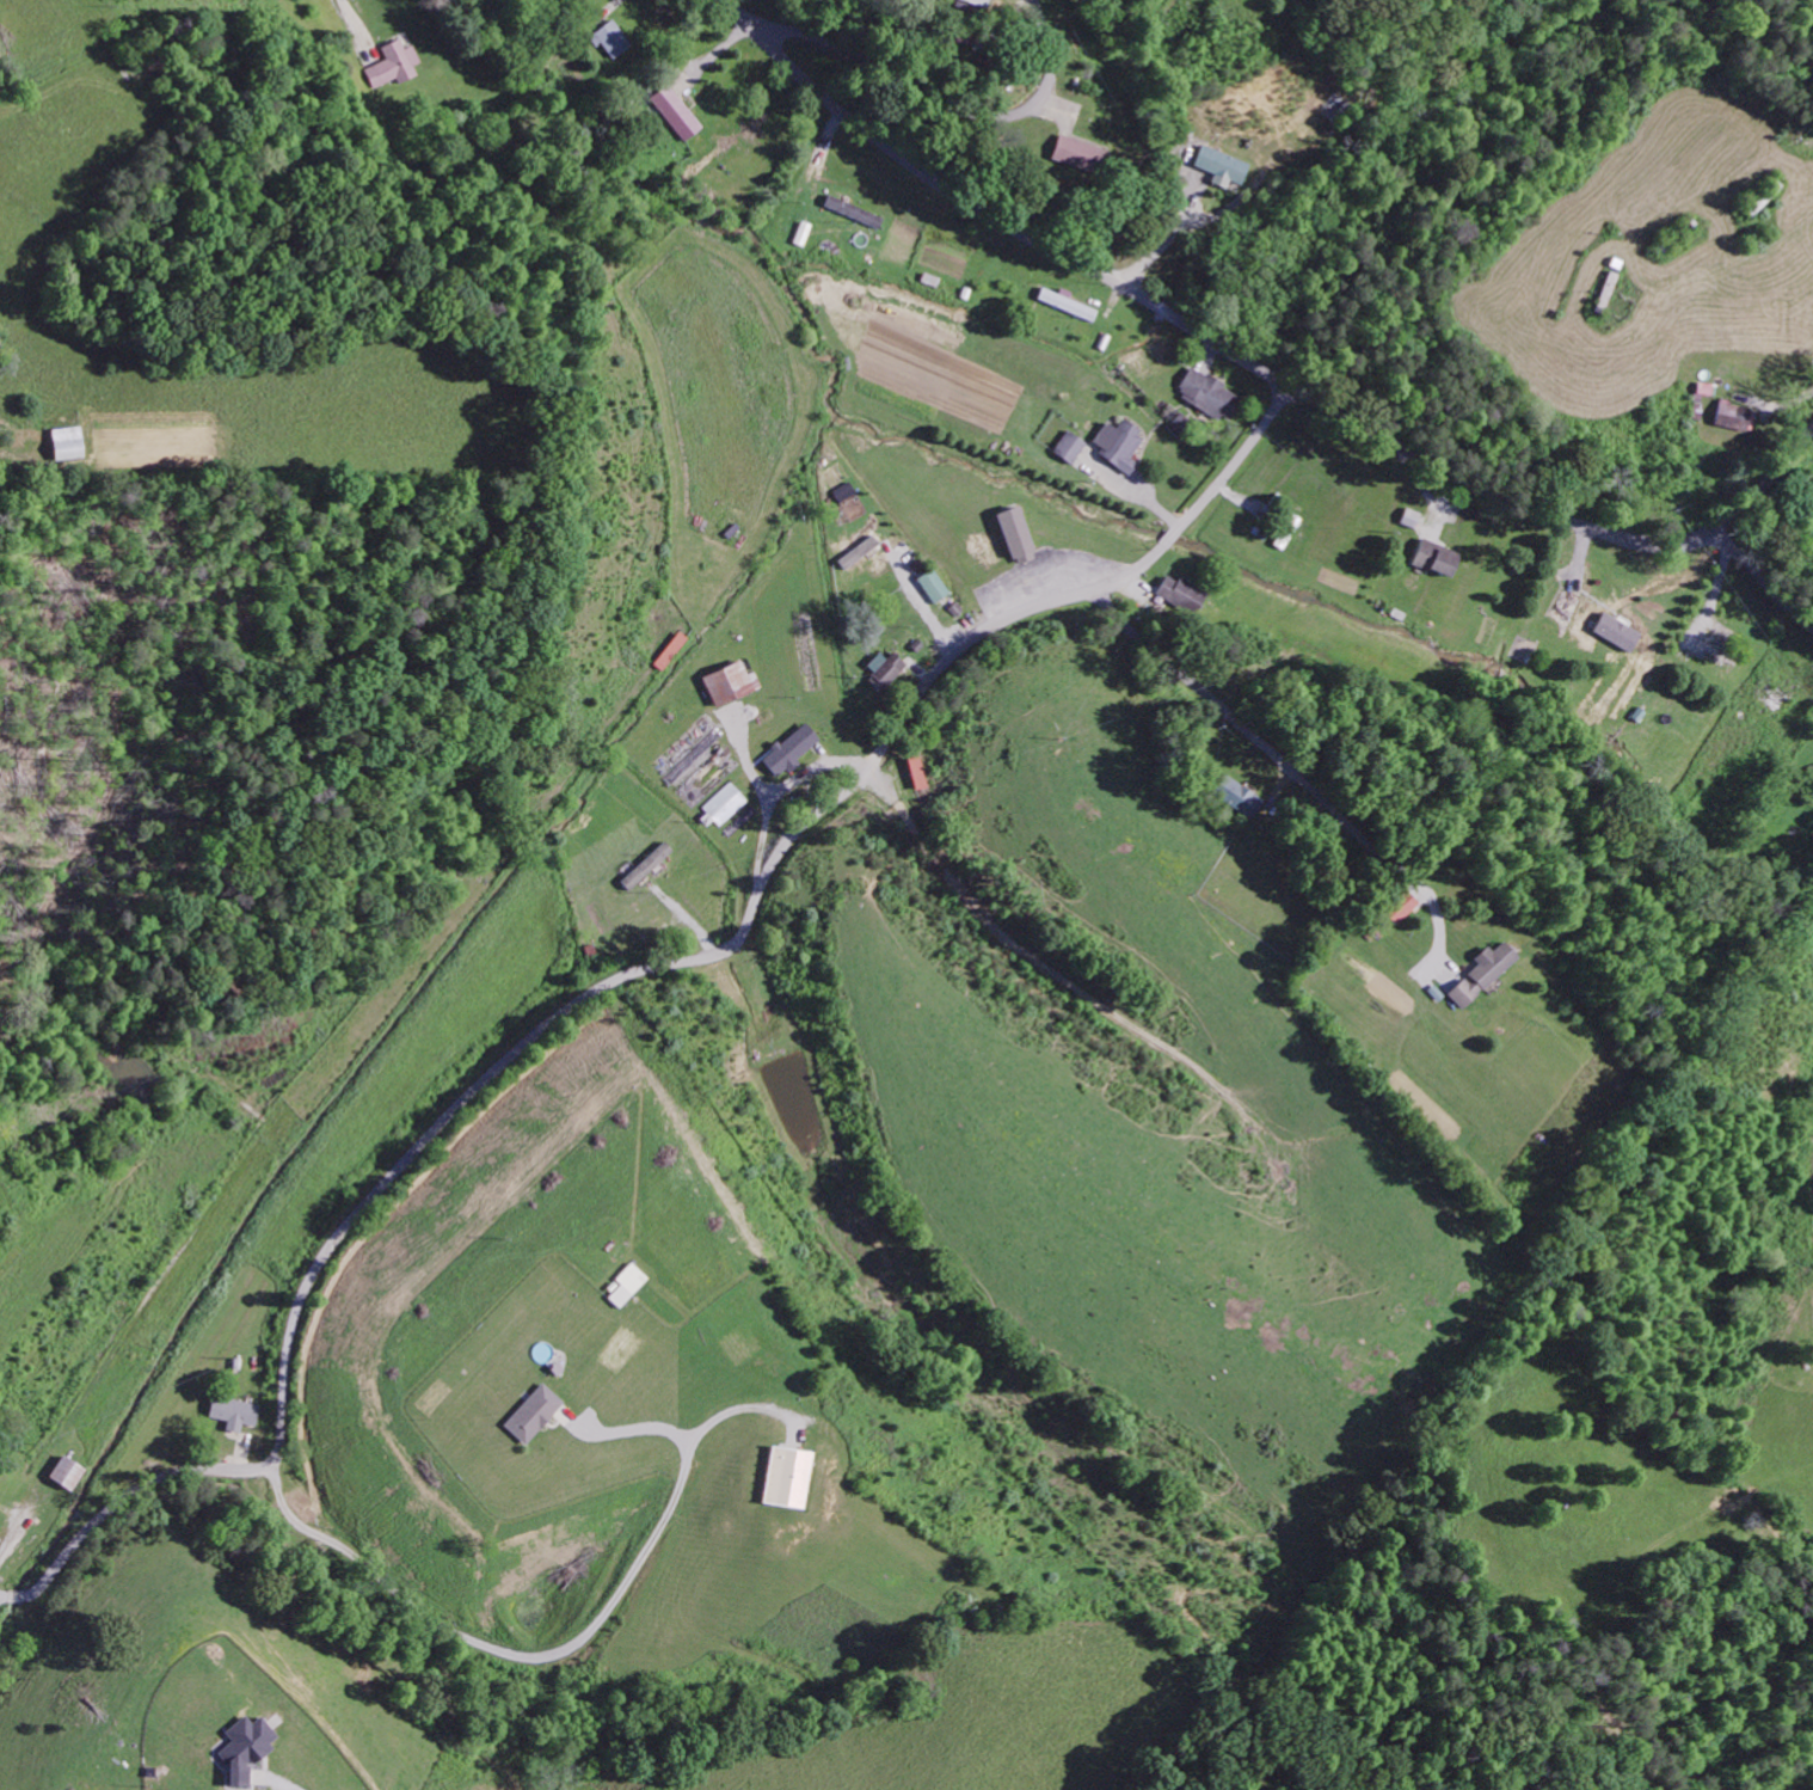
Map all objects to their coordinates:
building: (611, 39)
building: (393, 65)
road: (939, 87)
building: (675, 112)
building: (1075, 154)
building: (1219, 166)
road: (1255, 368)
building: (1207, 394)
building: (1733, 415)
building: (66, 441)
building: (1118, 443)
building: (1073, 446)
building: (1015, 533)
building: (1434, 557)
road: (1759, 578)
building: (1181, 591)
building: (885, 668)
building: (730, 681)
road: (1235, 722)
building: (789, 748)
building: (1237, 796)
building: (724, 804)
building: (646, 864)
building: (1401, 906)
building: (1483, 971)
road: (611, 981)
building: (620, 1295)
building: (234, 1412)
building: (533, 1412)
building: (67, 1472)
building: (786, 1477)
building: (302, 1501)
building: (244, 1749)

